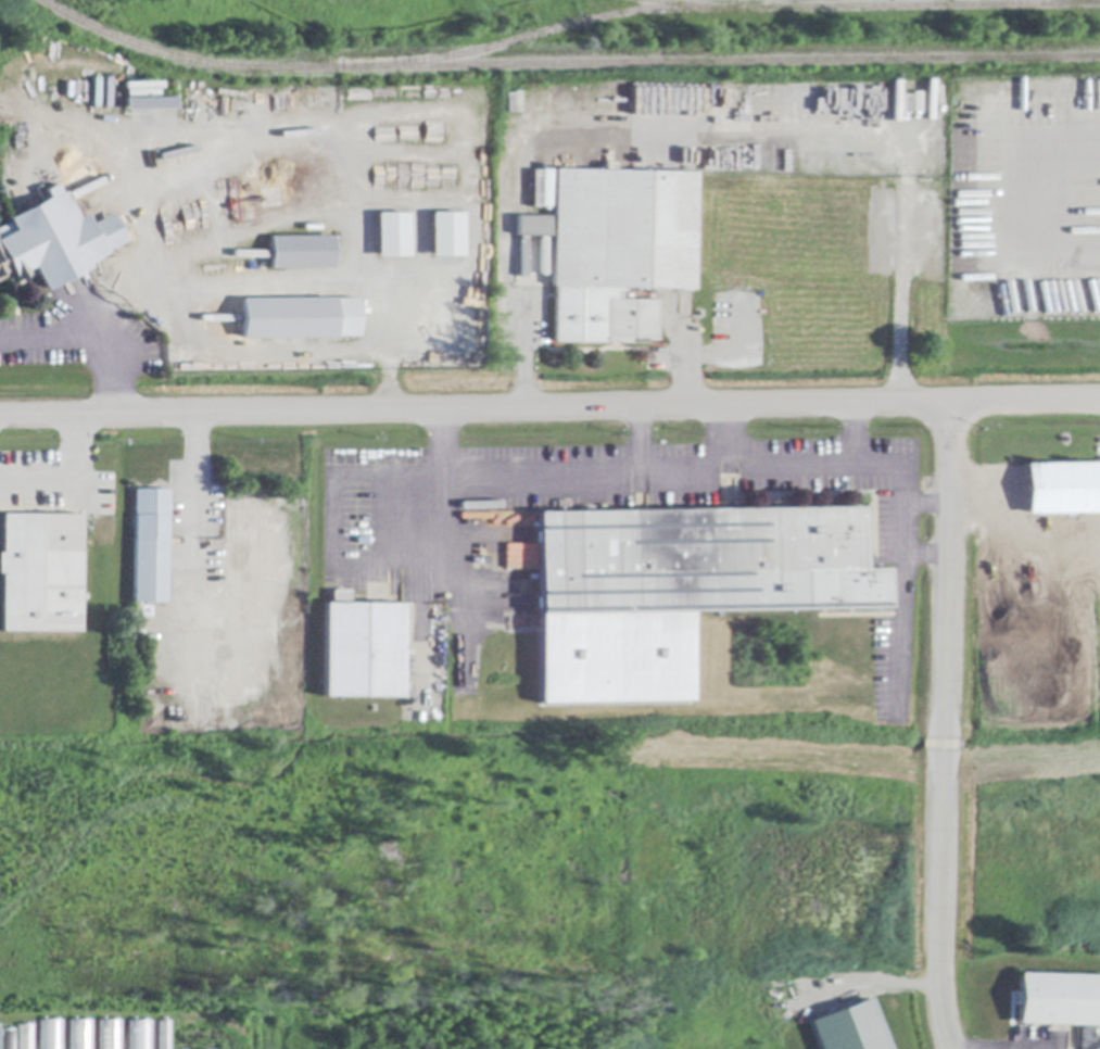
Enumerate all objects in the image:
railway: (690, 3)
railway: (717, 8)
railway: (564, 64)
building: (150, 104)
building: (547, 189)
building: (392, 236)
building: (446, 236)
building: (54, 241)
building: (616, 251)
building: (302, 253)
road: (287, 287)
building: (299, 319)
road: (90, 338)
road: (549, 410)
road: (855, 435)
road: (726, 438)
road: (641, 440)
road: (758, 466)
road: (64, 478)
road: (194, 488)
building: (1063, 489)
road: (924, 507)
road: (438, 518)
building: (150, 547)
road: (922, 554)
building: (520, 555)
building: (40, 574)
building: (680, 591)
building: (363, 649)
road: (939, 728)
building: (1059, 1000)
building: (850, 1029)
building: (50, 1034)
building: (94, 1034)
building: (139, 1034)
building: (164, 1034)
building: (7, 1038)

